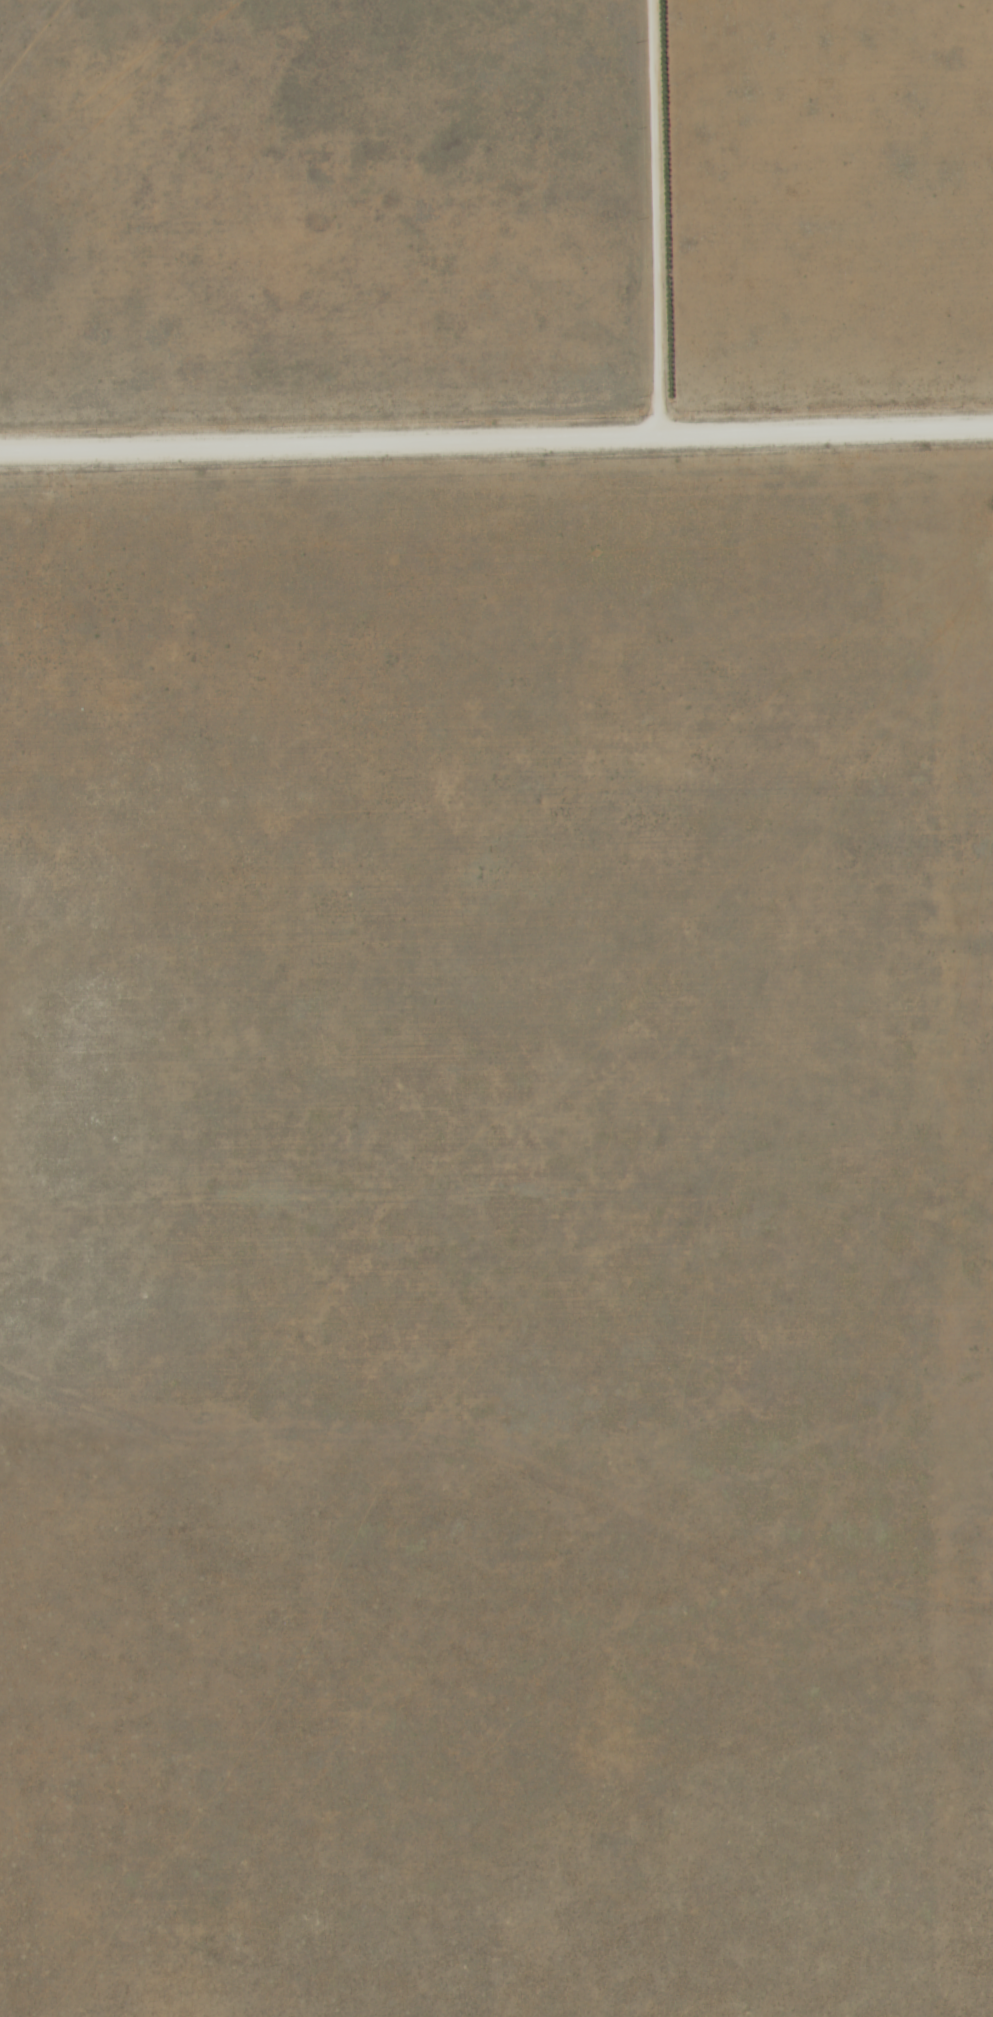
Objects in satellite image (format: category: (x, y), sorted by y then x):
road: (653, 221)
road: (496, 446)

